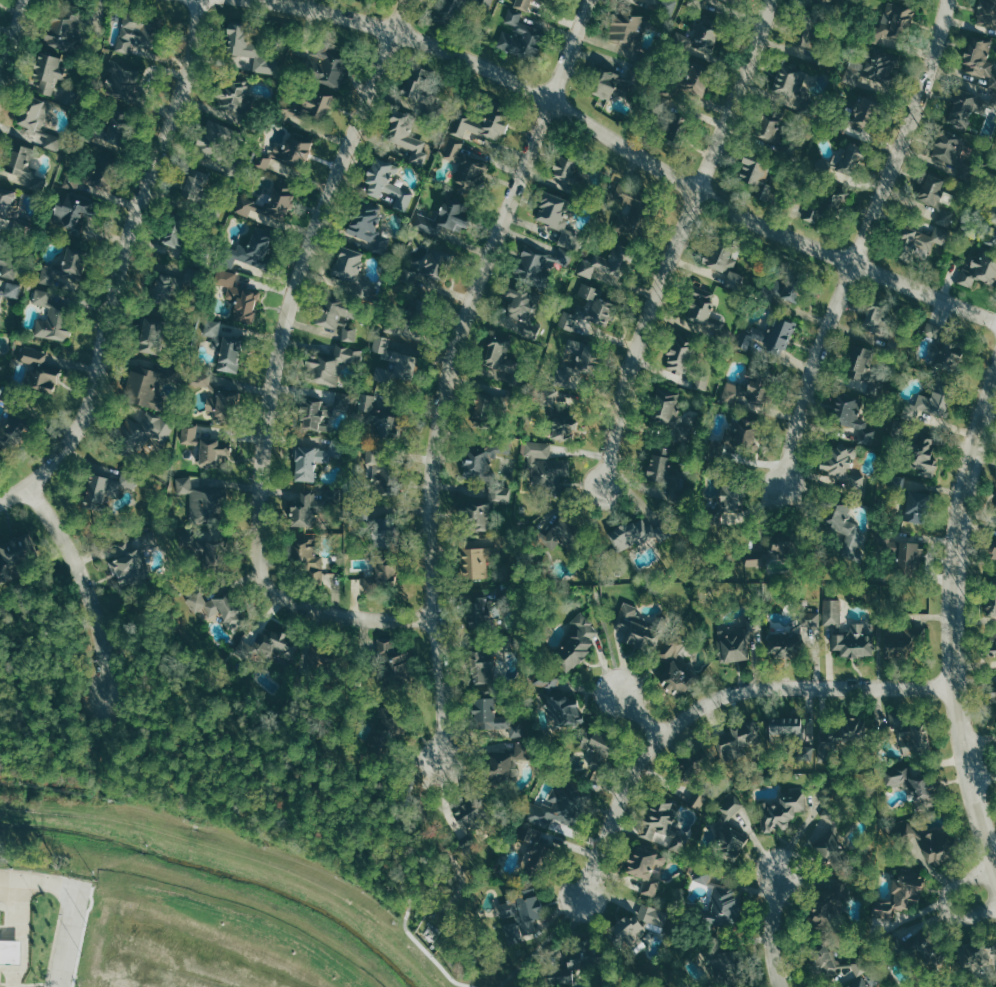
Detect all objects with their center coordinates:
building: (732, 0)
building: (827, 0)
building: (522, 4)
building: (483, 5)
building: (533, 5)
building: (668, 6)
building: (448, 8)
building: (987, 12)
building: (893, 25)
building: (61, 33)
building: (133, 33)
building: (629, 33)
building: (518, 34)
road: (12, 37)
building: (806, 37)
building: (698, 41)
building: (251, 51)
building: (980, 61)
building: (323, 67)
building: (871, 71)
building: (45, 73)
building: (697, 77)
building: (121, 78)
building: (607, 83)
building: (787, 83)
building: (421, 88)
building: (235, 98)
building: (664, 98)
building: (315, 103)
building: (966, 109)
building: (860, 116)
building: (34, 119)
building: (770, 122)
building: (479, 125)
building: (107, 131)
building: (405, 136)
building: (210, 138)
building: (949, 148)
road: (628, 150)
building: (288, 151)
building: (846, 158)
building: (21, 164)
building: (465, 164)
building: (562, 172)
building: (756, 175)
building: (386, 184)
building: (198, 191)
building: (935, 198)
building: (838, 201)
building: (5, 202)
building: (268, 205)
building: (70, 213)
building: (813, 215)
building: (364, 220)
building: (443, 220)
building: (625, 224)
building: (182, 238)
building: (568, 238)
building: (921, 240)
road: (680, 241)
road: (862, 242)
building: (0, 250)
building: (250, 250)
building: (347, 263)
road: (120, 265)
building: (723, 265)
building: (10, 268)
building: (604, 268)
building: (978, 271)
building: (434, 272)
building: (59, 275)
building: (171, 284)
building: (12, 290)
building: (0, 294)
building: (776, 294)
building: (238, 297)
building: (518, 308)
building: (700, 311)
building: (587, 312)
building: (336, 316)
building: (876, 322)
building: (53, 325)
building: (211, 328)
building: (159, 331)
building: (933, 331)
building: (770, 337)
building: (383, 345)
building: (498, 353)
building: (228, 354)
building: (678, 354)
building: (947, 356)
building: (332, 366)
building: (863, 366)
building: (397, 368)
road: (453, 368)
road: (272, 370)
building: (38, 372)
building: (200, 380)
building: (702, 380)
building: (147, 384)
building: (567, 387)
building: (747, 392)
building: (487, 399)
building: (224, 404)
building: (930, 406)
building: (666, 408)
building: (320, 410)
building: (852, 415)
building: (376, 416)
building: (13, 428)
building: (140, 433)
building: (738, 445)
building: (205, 446)
building: (921, 455)
building: (482, 456)
building: (308, 462)
building: (658, 465)
building: (545, 466)
building: (376, 467)
building: (840, 469)
building: (105, 488)
building: (502, 494)
building: (203, 501)
building: (727, 504)
building: (914, 507)
building: (305, 509)
building: (475, 518)
building: (845, 530)
building: (558, 532)
building: (629, 533)
building: (378, 536)
building: (205, 550)
building: (993, 551)
building: (14, 555)
building: (908, 556)
building: (767, 558)
building: (131, 560)
building: (309, 560)
building: (474, 563)
building: (379, 575)
road: (83, 585)
building: (991, 604)
building: (219, 607)
building: (480, 610)
building: (813, 620)
road: (950, 625)
building: (636, 627)
building: (846, 631)
building: (908, 631)
building: (576, 641)
building: (780, 643)
building: (267, 644)
building: (733, 644)
building: (992, 644)
building: (487, 658)
building: (392, 666)
building: (675, 666)
building: (317, 669)
building: (543, 680)
building: (992, 688)
building: (484, 702)
road: (710, 702)
building: (563, 709)
road: (638, 718)
building: (894, 719)
building: (787, 728)
building: (848, 729)
building: (386, 730)
building: (914, 738)
road: (979, 739)
building: (738, 740)
building: (598, 749)
building: (502, 764)
road: (269, 776)
road: (983, 776)
building: (909, 780)
building: (699, 801)
building: (559, 807)
building: (781, 810)
building: (471, 819)
building: (663, 824)
building: (728, 833)
road: (432, 836)
building: (926, 838)
building: (829, 846)
building: (535, 852)
building: (643, 868)
building: (703, 876)
road: (40, 881)
building: (900, 894)
road: (946, 899)
building: (722, 905)
building: (521, 913)
building: (639, 926)
road: (772, 932)
road: (16, 933)
road: (71, 937)
road: (539, 944)
building: (9, 951)
building: (976, 953)
building: (822, 959)
building: (724, 963)
building: (586, 964)
building: (859, 983)

